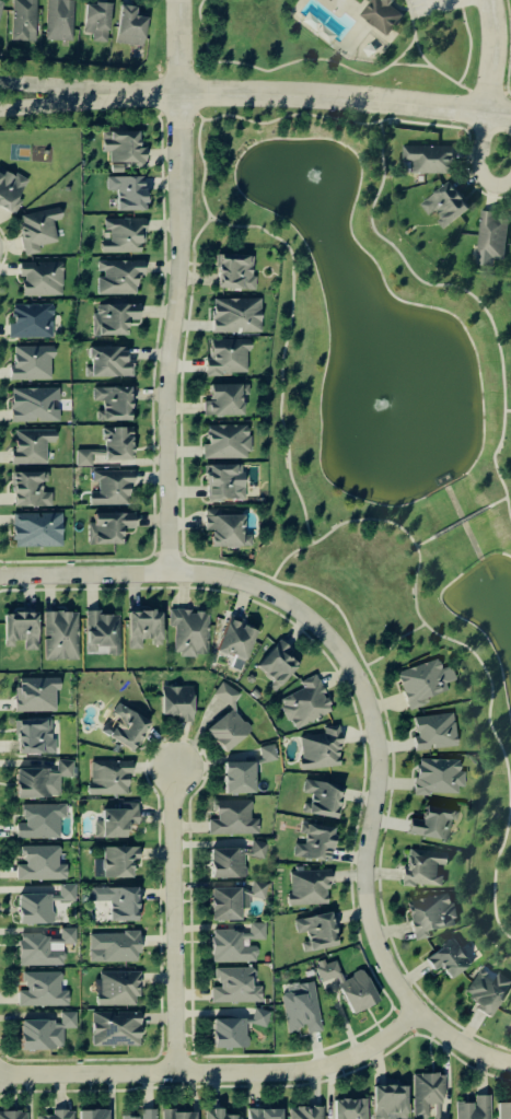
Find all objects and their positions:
street lamp: (402, 2)
road: (435, 2)
road: (460, 3)
building: (0, 5)
road: (395, 5)
parking lot: (428, 5)
building: (380, 14)
building: (57, 19)
building: (21, 20)
building: (93, 20)
building: (127, 26)
road: (204, 31)
park: (333, 43)
road: (468, 46)
road: (509, 48)
road: (420, 56)
road: (489, 56)
road: (311, 58)
road: (408, 62)
road: (196, 73)
road: (177, 75)
street lamp: (503, 83)
road: (63, 85)
road: (485, 91)
street lamp: (451, 92)
road: (503, 92)
road: (161, 93)
road: (194, 94)
road: (320, 96)
road: (62, 100)
road: (468, 107)
street lamp: (98, 109)
street lamp: (329, 110)
road: (177, 112)
road: (160, 114)
road: (196, 115)
road: (380, 118)
road: (489, 127)
road: (466, 128)
road: (480, 141)
building: (120, 147)
building: (426, 156)
building: (114, 166)
street lamp: (166, 173)
road: (491, 185)
building: (9, 189)
building: (125, 190)
fountain: (313, 190)
building: (443, 202)
road: (208, 219)
building: (34, 228)
road: (198, 229)
building: (120, 233)
building: (488, 236)
road: (4, 247)
street lamp: (0, 258)
building: (232, 270)
building: (115, 275)
building: (38, 277)
road: (179, 285)
road: (460, 288)
road: (290, 303)
building: (234, 314)
building: (109, 317)
building: (27, 319)
building: (224, 354)
building: (27, 361)
building: (105, 361)
road: (181, 398)
building: (221, 398)
building: (109, 401)
fountain: (392, 401)
building: (31, 404)
road: (506, 409)
road: (152, 410)
street lamp: (158, 426)
park: (380, 429)
building: (223, 440)
building: (113, 441)
building: (27, 445)
building: (82, 455)
building: (220, 480)
building: (108, 486)
building: (26, 488)
road: (496, 499)
road: (504, 510)
road: (458, 520)
building: (105, 526)
building: (34, 528)
building: (222, 528)
road: (330, 528)
road: (420, 540)
road: (154, 552)
road: (178, 552)
road: (167, 553)
road: (225, 562)
street lamp: (123, 563)
street lamp: (9, 584)
street lamp: (227, 588)
road: (332, 604)
street lamp: (325, 620)
building: (140, 626)
building: (16, 629)
building: (98, 630)
building: (186, 630)
building: (57, 634)
building: (231, 638)
road: (386, 646)
building: (274, 663)
street lamp: (370, 680)
road: (373, 680)
building: (420, 680)
building: (33, 692)
building: (223, 693)
building: (173, 701)
building: (302, 701)
road: (368, 707)
building: (123, 726)
building: (224, 728)
building: (431, 730)
road: (488, 730)
building: (31, 735)
street lamp: (188, 744)
building: (317, 748)
building: (263, 753)
building: (59, 768)
building: (106, 776)
building: (434, 776)
building: (234, 777)
street lamp: (369, 778)
building: (28, 782)
building: (318, 797)
street lamp: (163, 800)
building: (230, 817)
building: (37, 819)
building: (113, 819)
building: (429, 823)
building: (311, 841)
street lamp: (358, 843)
building: (253, 848)
building: (116, 860)
building: (37, 862)
building: (223, 862)
building: (420, 866)
building: (305, 886)
building: (255, 888)
building: (61, 891)
building: (114, 900)
building: (224, 901)
road: (380, 902)
building: (31, 908)
building: (428, 912)
road: (176, 919)
street lamp: (165, 924)
building: (313, 930)
building: (252, 931)
building: (61, 935)
building: (111, 945)
building: (227, 946)
building: (34, 949)
building: (446, 957)
building: (325, 970)
building: (232, 984)
building: (115, 987)
building: (38, 988)
building: (485, 989)
building: (353, 991)
building: (298, 1007)
building: (255, 1016)
building: (510, 1018)
road: (404, 1021)
street lamp: (390, 1024)
building: (112, 1028)
building: (42, 1030)
building: (225, 1033)
street lamp: (185, 1041)
street lamp: (451, 1048)
road: (163, 1052)
road: (176, 1052)
road: (190, 1052)
road: (235, 1054)
street lamp: (21, 1066)
road: (216, 1071)
street lamp: (158, 1083)
street lamp: (284, 1083)
road: (267, 1085)
building: (423, 1091)
building: (386, 1100)
building: (347, 1108)
building: (472, 1108)
building: (502, 1110)
building: (303, 1112)
building: (435, 1112)
building: (140, 1114)
building: (214, 1114)
building: (262, 1114)
building: (12, 1115)
building: (56, 1115)
building: (90, 1115)
building: (173, 1115)

